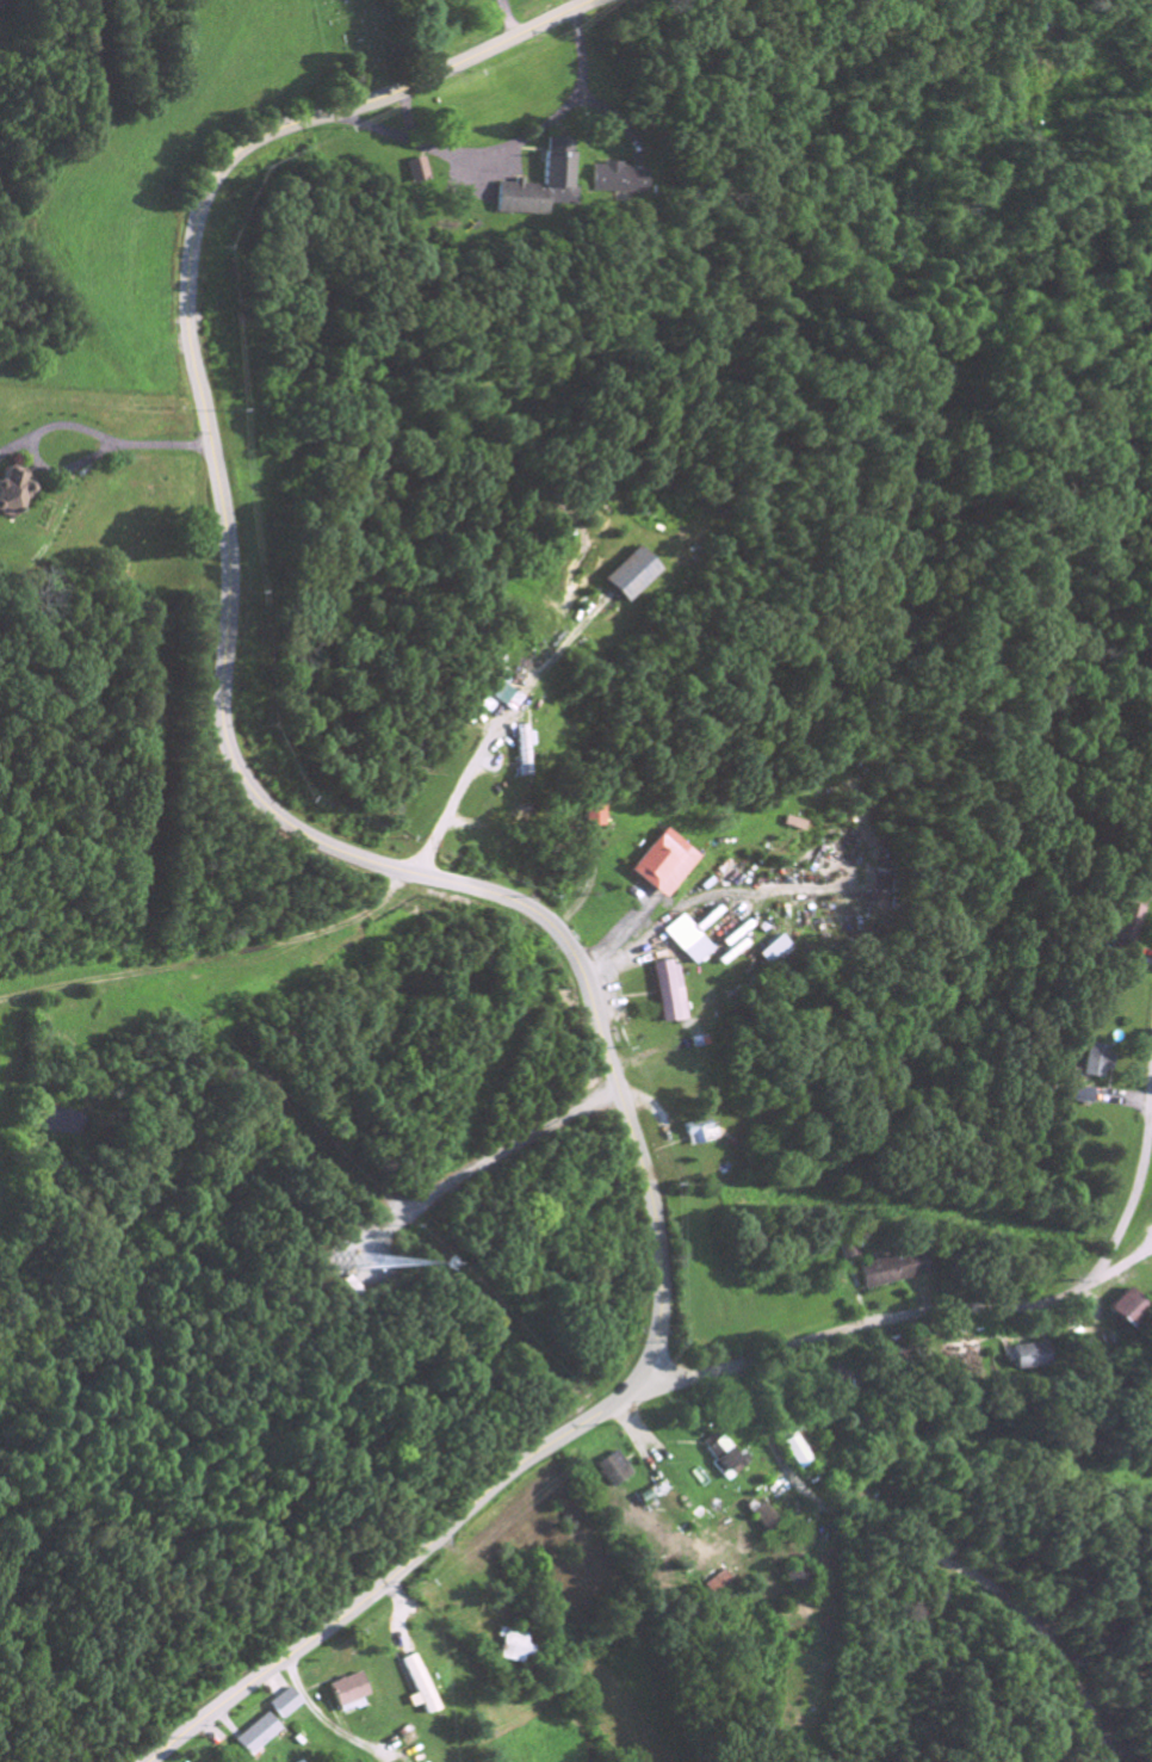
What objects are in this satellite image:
road: (497, 20)
road: (402, 119)
road: (497, 149)
building: (419, 174)
building: (615, 183)
building: (541, 187)
road: (64, 425)
building: (13, 491)
building: (631, 576)
building: (506, 698)
road: (477, 740)
building: (521, 752)
building: (595, 817)
building: (664, 865)
road: (417, 878)
building: (1128, 925)
building: (686, 942)
building: (770, 952)
road: (212, 956)
building: (667, 994)
building: (1098, 1063)
building: (1084, 1098)
building: (696, 1135)
road: (491, 1154)
road: (1122, 1267)
building: (893, 1272)
road: (971, 1309)
building: (1126, 1311)
building: (1028, 1359)
building: (792, 1455)
building: (723, 1457)
building: (614, 1472)
road: (929, 1552)
building: (800, 1579)
building: (718, 1585)
building: (509, 1647)
building: (416, 1689)
building: (347, 1693)
building: (284, 1706)
building: (255, 1738)

